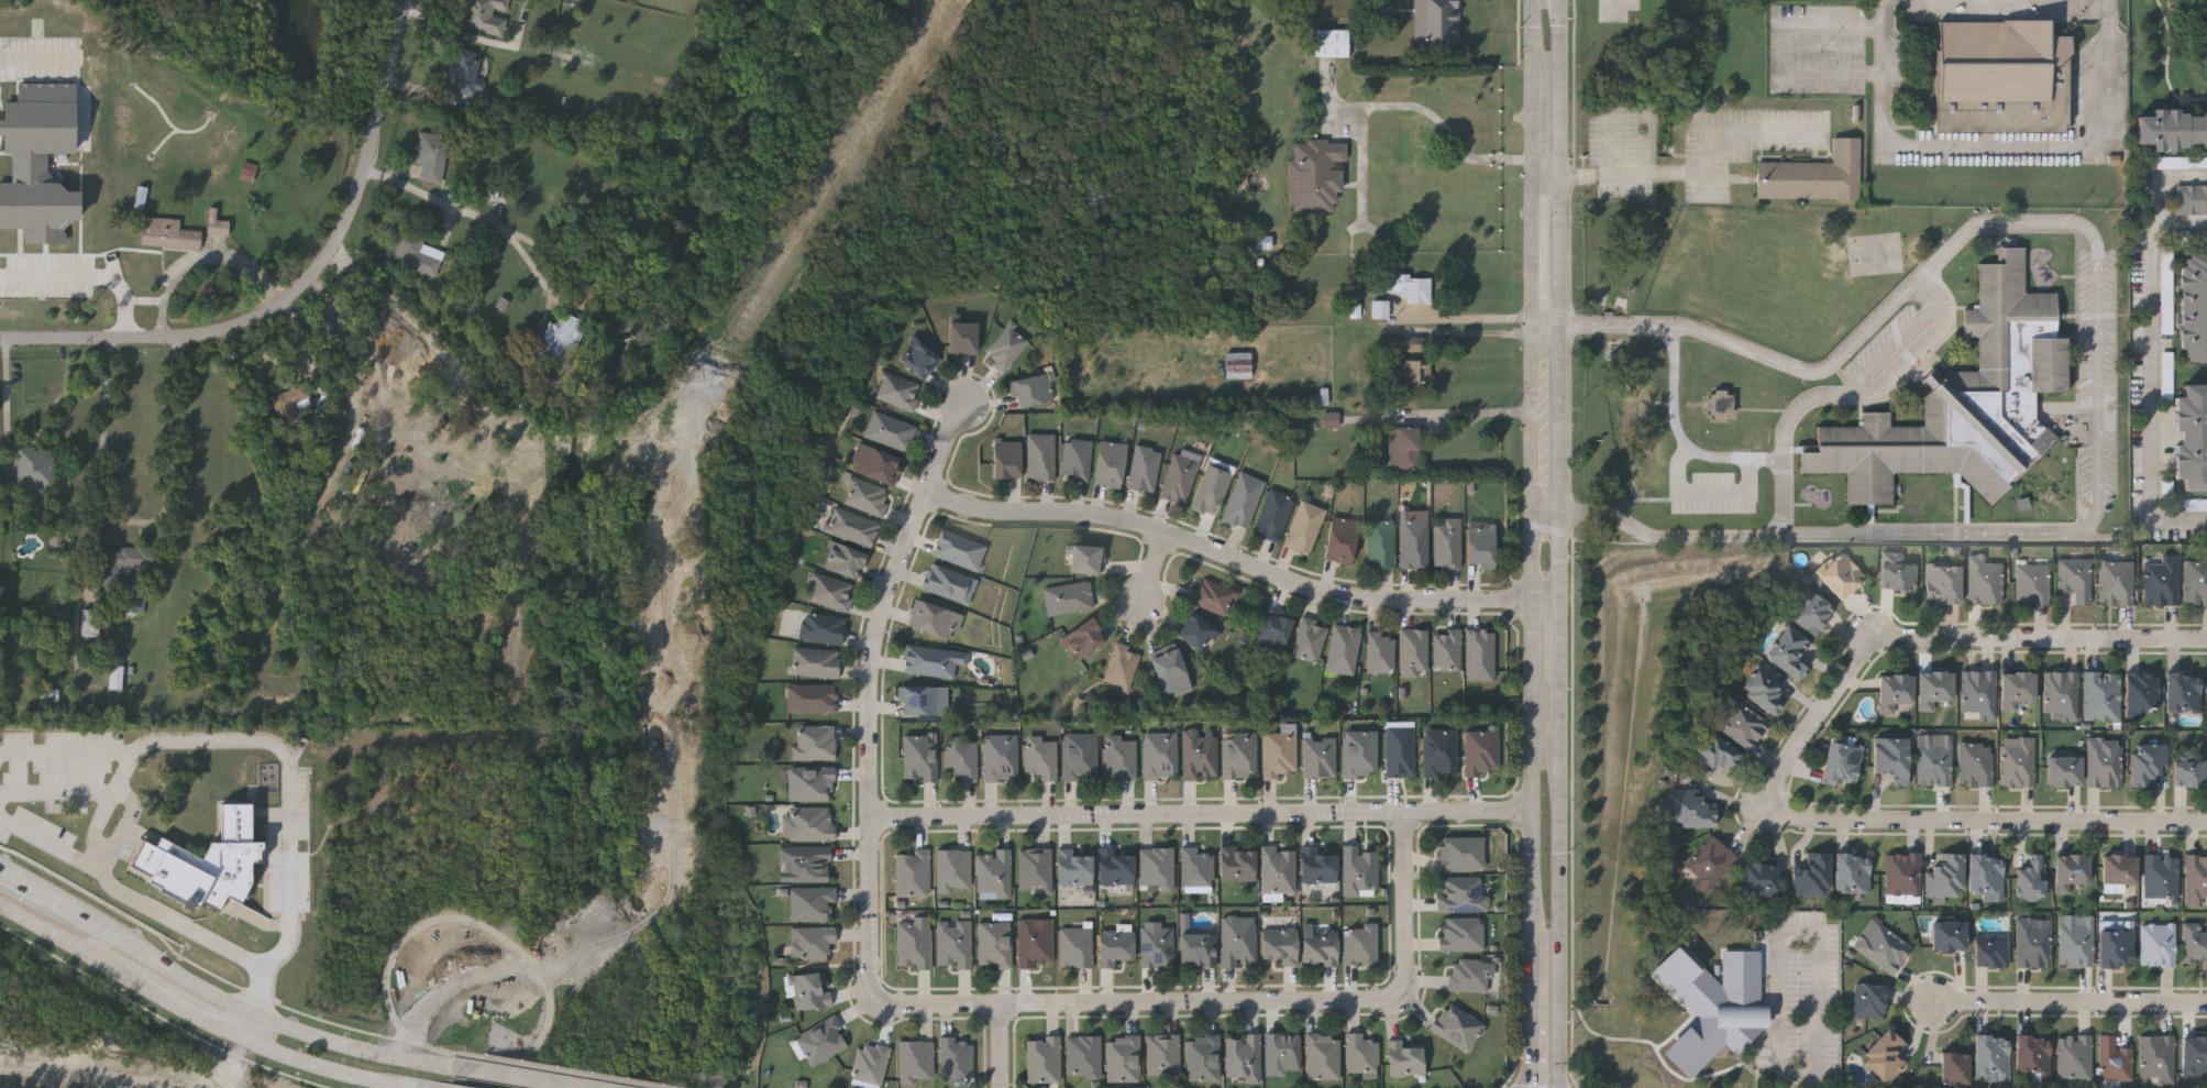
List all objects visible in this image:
building: (1382, 10)
road: (1560, 11)
road: (1536, 13)
building: (485, 15)
building: (1435, 19)
building: (1331, 42)
road: (1794, 48)
road: (37, 56)
building: (1998, 62)
building: (462, 72)
road: (1423, 109)
building: (2173, 128)
road: (1995, 144)
building: (430, 155)
building: (40, 162)
building: (2177, 163)
building: (249, 172)
road: (1630, 172)
building: (1315, 173)
road: (1547, 175)
building: (1813, 175)
road: (2164, 182)
building: (2192, 199)
road: (471, 212)
building: (214, 223)
building: (167, 233)
building: (2200, 238)
building: (1262, 242)
building: (418, 254)
road: (88, 276)
building: (1411, 287)
road: (300, 288)
building: (2167, 301)
building: (2194, 305)
building: (1380, 308)
road: (1560, 312)
road: (1485, 317)
road: (1547, 325)
building: (960, 337)
building: (559, 339)
building: (1408, 344)
building: (1004, 347)
building: (916, 356)
building: (1237, 365)
road: (1800, 369)
road: (2151, 373)
road: (1873, 375)
building: (2167, 376)
building: (1414, 380)
building: (1031, 387)
road: (7, 391)
building: (897, 391)
building: (1965, 403)
building: (290, 405)
building: (1721, 405)
road: (1475, 416)
building: (1332, 420)
building: (887, 429)
road: (1679, 435)
building: (2192, 436)
road: (1535, 440)
building: (1403, 448)
building: (1039, 455)
building: (1074, 458)
building: (1005, 459)
building: (1108, 462)
building: (874, 463)
building: (31, 468)
building: (1144, 468)
building: (1178, 477)
road: (2098, 480)
building: (1211, 488)
road: (1706, 491)
building: (864, 495)
road: (1780, 496)
building: (1242, 499)
road: (1547, 510)
building: (1272, 514)
road: (133, 520)
building: (850, 526)
building: (1303, 526)
road: (1666, 536)
building: (1339, 539)
building: (1446, 541)
building: (1379, 542)
building: (1412, 542)
building: (1480, 546)
building: (958, 549)
building: (1085, 558)
building: (842, 559)
road: (1242, 562)
road: (1155, 568)
building: (124, 573)
building: (1897, 573)
building: (1842, 576)
building: (2076, 579)
building: (1985, 581)
building: (2163, 581)
building: (947, 582)
building: (2117, 583)
building: (1944, 584)
building: (2032, 584)
building: (2196, 584)
building: (829, 591)
building: (1211, 594)
building: (1067, 596)
building: (1812, 612)
building: (934, 618)
building: (89, 623)
building: (819, 626)
building: (1195, 631)
building: (1272, 631)
building: (1082, 637)
building: (1309, 638)
road: (2044, 640)
building: (1342, 648)
building: (1445, 648)
building: (1379, 651)
building: (1412, 651)
building: (1789, 652)
building: (1479, 653)
building: (928, 660)
building: (814, 661)
building: (1121, 664)
road: (1560, 668)
building: (1169, 672)
building: (118, 678)
building: (1935, 689)
building: (1765, 690)
building: (2017, 690)
building: (1895, 692)
building: (2184, 692)
building: (48, 693)
building: (2143, 693)
road: (871, 694)
building: (1980, 694)
building: (2063, 694)
building: (810, 696)
building: (2103, 696)
building: (918, 699)
road: (1824, 717)
building: (1743, 726)
building: (813, 740)
road: (257, 744)
building: (1398, 748)
road: (67, 750)
building: (1438, 751)
building: (1480, 751)
building: (1358, 752)
building: (1158, 754)
building: (1238, 754)
building: (1278, 754)
building: (1078, 755)
building: (1198, 755)
building: (998, 756)
building: (1039, 756)
building: (1317, 756)
building: (1713, 756)
building: (918, 757)
building: (960, 757)
building: (1118, 757)
building: (1892, 759)
building: (1935, 760)
building: (2019, 762)
building: (2105, 763)
building: (1843, 765)
building: (2149, 765)
building: (1976, 766)
building: (2189, 771)
building: (2065, 772)
building: (808, 782)
road: (57, 793)
road: (1560, 794)
building: (1695, 812)
road: (1204, 815)
road: (1990, 821)
building: (806, 822)
building: (1459, 851)
building: (803, 862)
building: (1236, 864)
building: (1316, 865)
building: (1710, 865)
building: (1114, 866)
building: (1073, 867)
building: (1155, 867)
building: (1034, 868)
building: (1195, 868)
building: (952, 869)
building: (1277, 869)
building: (1358, 869)
building: (2120, 870)
building: (911, 871)
building: (992, 872)
building: (2071, 872)
building: (1853, 873)
building: (1903, 875)
building: (1814, 877)
building: (2162, 877)
building: (1946, 878)
building: (1987, 878)
building: (2032, 879)
building: (2196, 880)
building: (1762, 881)
building: (1460, 892)
road: (42, 897)
building: (808, 901)
road: (1405, 906)
road: (163, 912)
road: (1535, 916)
road: (470, 917)
building: (1460, 932)
road: (1789, 935)
building: (1950, 937)
building: (1237, 939)
building: (810, 941)
building: (1034, 942)
building: (2077, 942)
building: (953, 943)
building: (994, 943)
building: (1359, 943)
building: (913, 944)
building: (1156, 944)
building: (1278, 944)
building: (2195, 944)
building: (1074, 945)
building: (1317, 945)
building: (2033, 945)
building: (2117, 945)
building: (2159, 945)
building: (1115, 946)
building: (1883, 947)
building: (1196, 948)
building: (1993, 952)
road: (1560, 970)
building: (1469, 974)
building: (806, 990)
road: (1138, 1001)
building: (1869, 1002)
road: (2073, 1003)
building: (1714, 1005)
road: (260, 1016)
road: (199, 1019)
building: (1456, 1025)
road: (1533, 1033)
building: (820, 1040)
road: (1001, 1045)
building: (1161, 1053)
building: (1281, 1053)
building: (1360, 1054)
building: (1082, 1055)
building: (1321, 1055)
building: (1242, 1056)
building: (1041, 1057)
building: (1122, 1057)
building: (1201, 1057)
building: (1403, 1057)
building: (1886, 1057)
building: (2195, 1057)
building: (954, 1058)
building: (2075, 1058)
building: (1993, 1059)
building: (2033, 1059)
building: (2159, 1059)
building: (915, 1060)
building: (2115, 1060)
building: (869, 1064)
building: (1955, 1069)
road: (561, 1070)
road: (516, 1078)
road: (1814, 1082)

